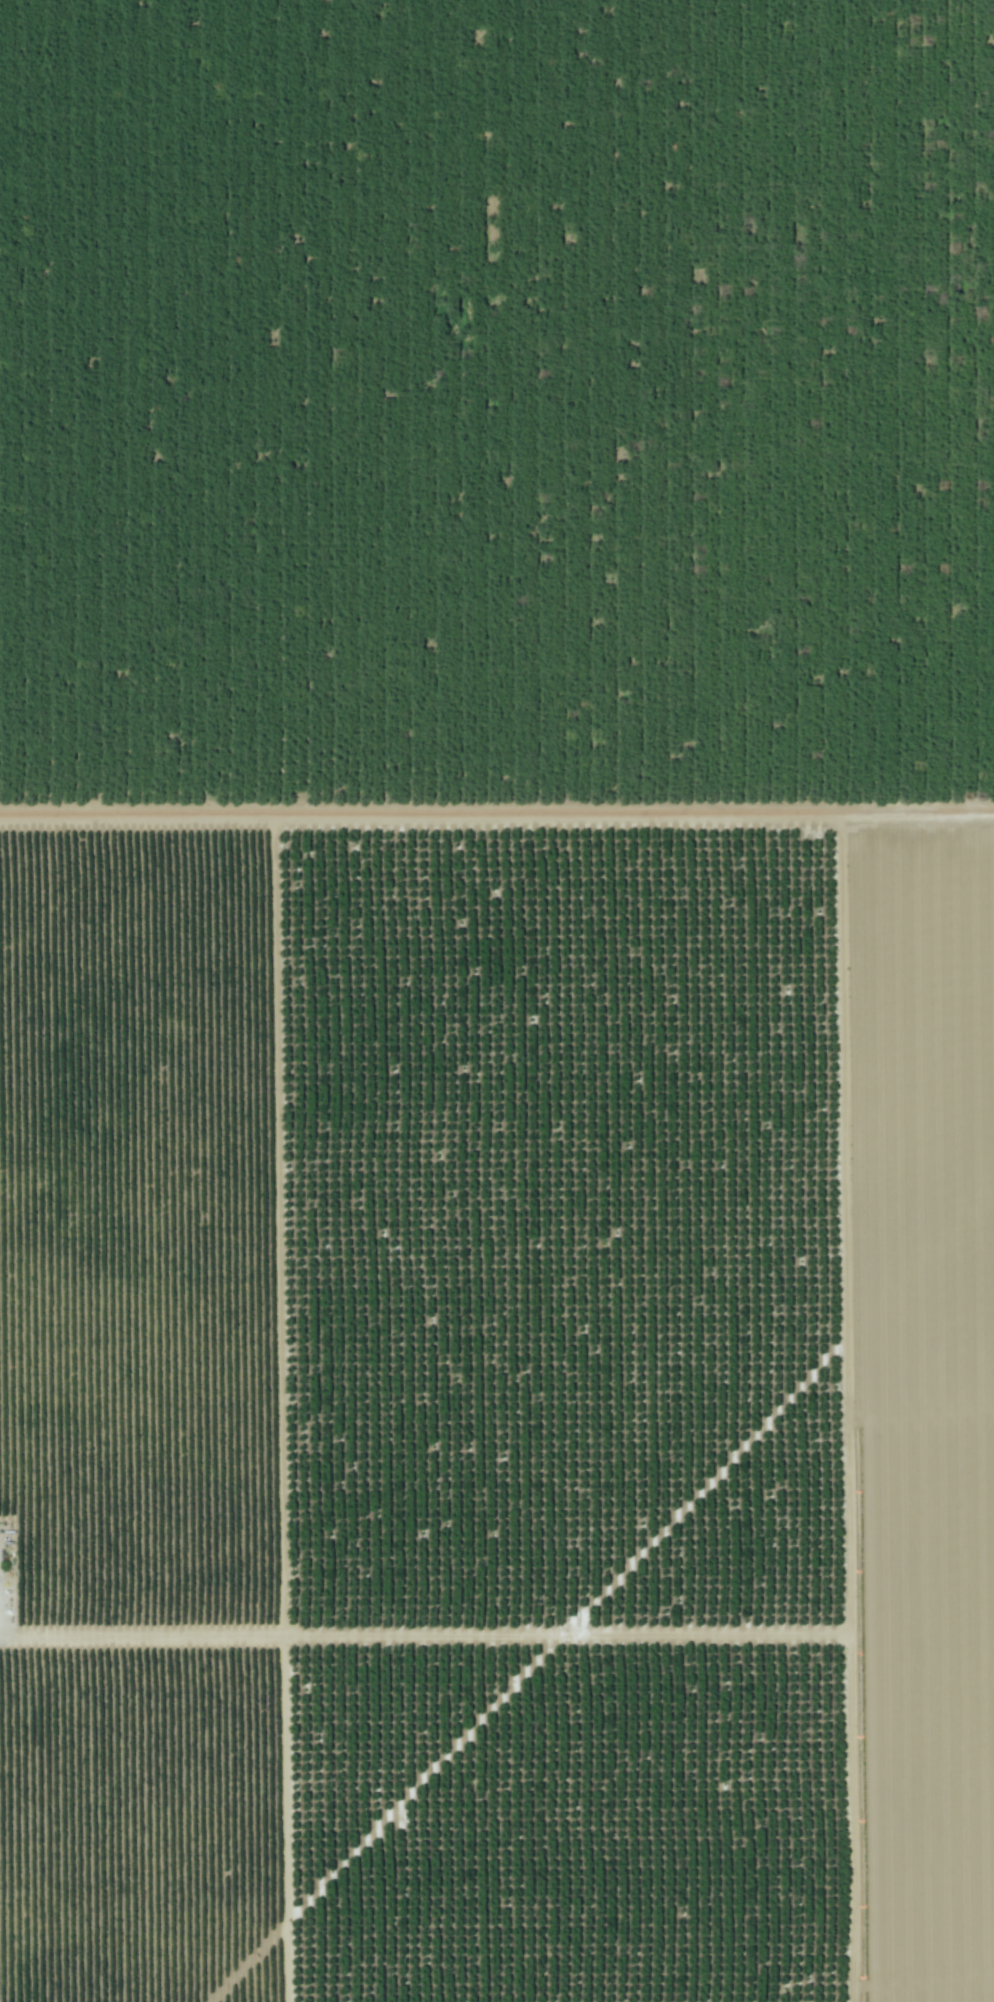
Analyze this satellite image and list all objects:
crop: (496, 1001)

